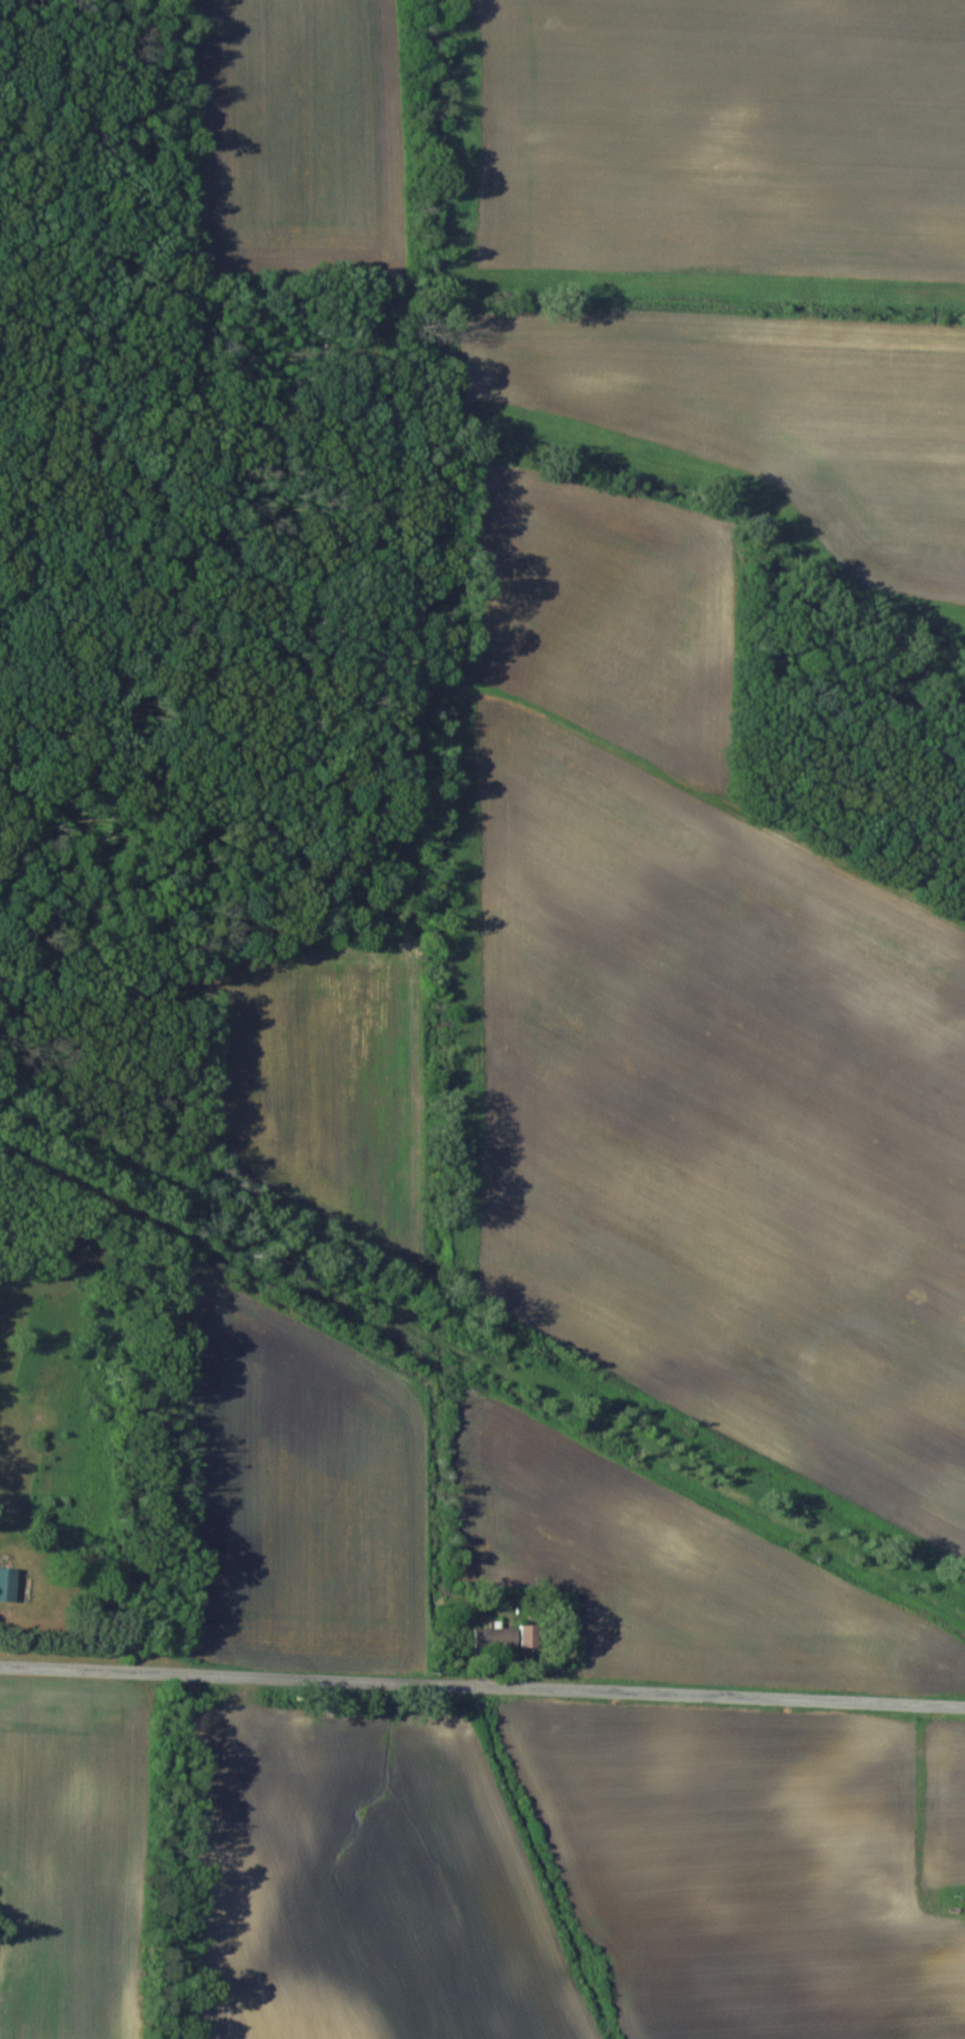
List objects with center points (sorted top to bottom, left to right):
building: (498, 1637)
road: (482, 1683)

